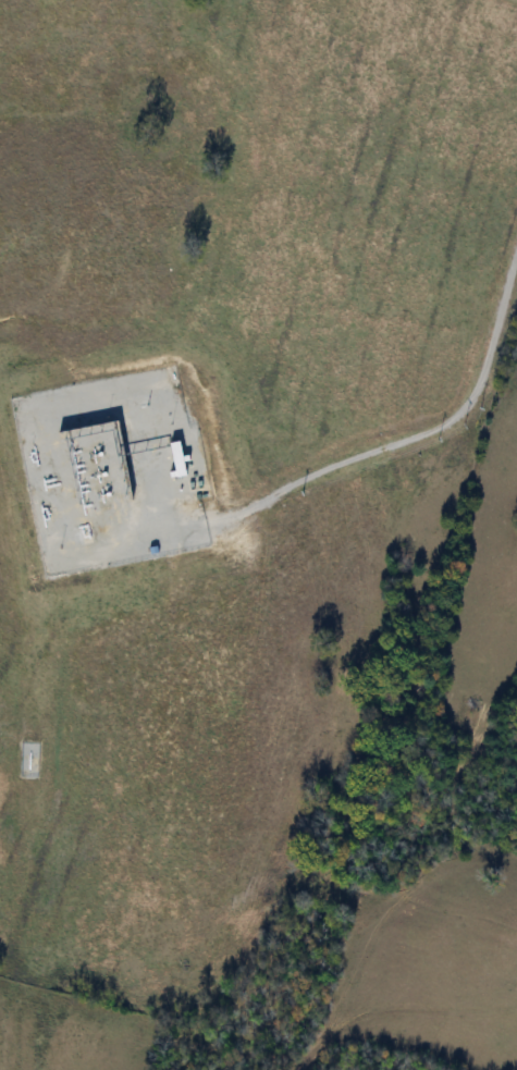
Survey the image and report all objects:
road: (414, 434)

